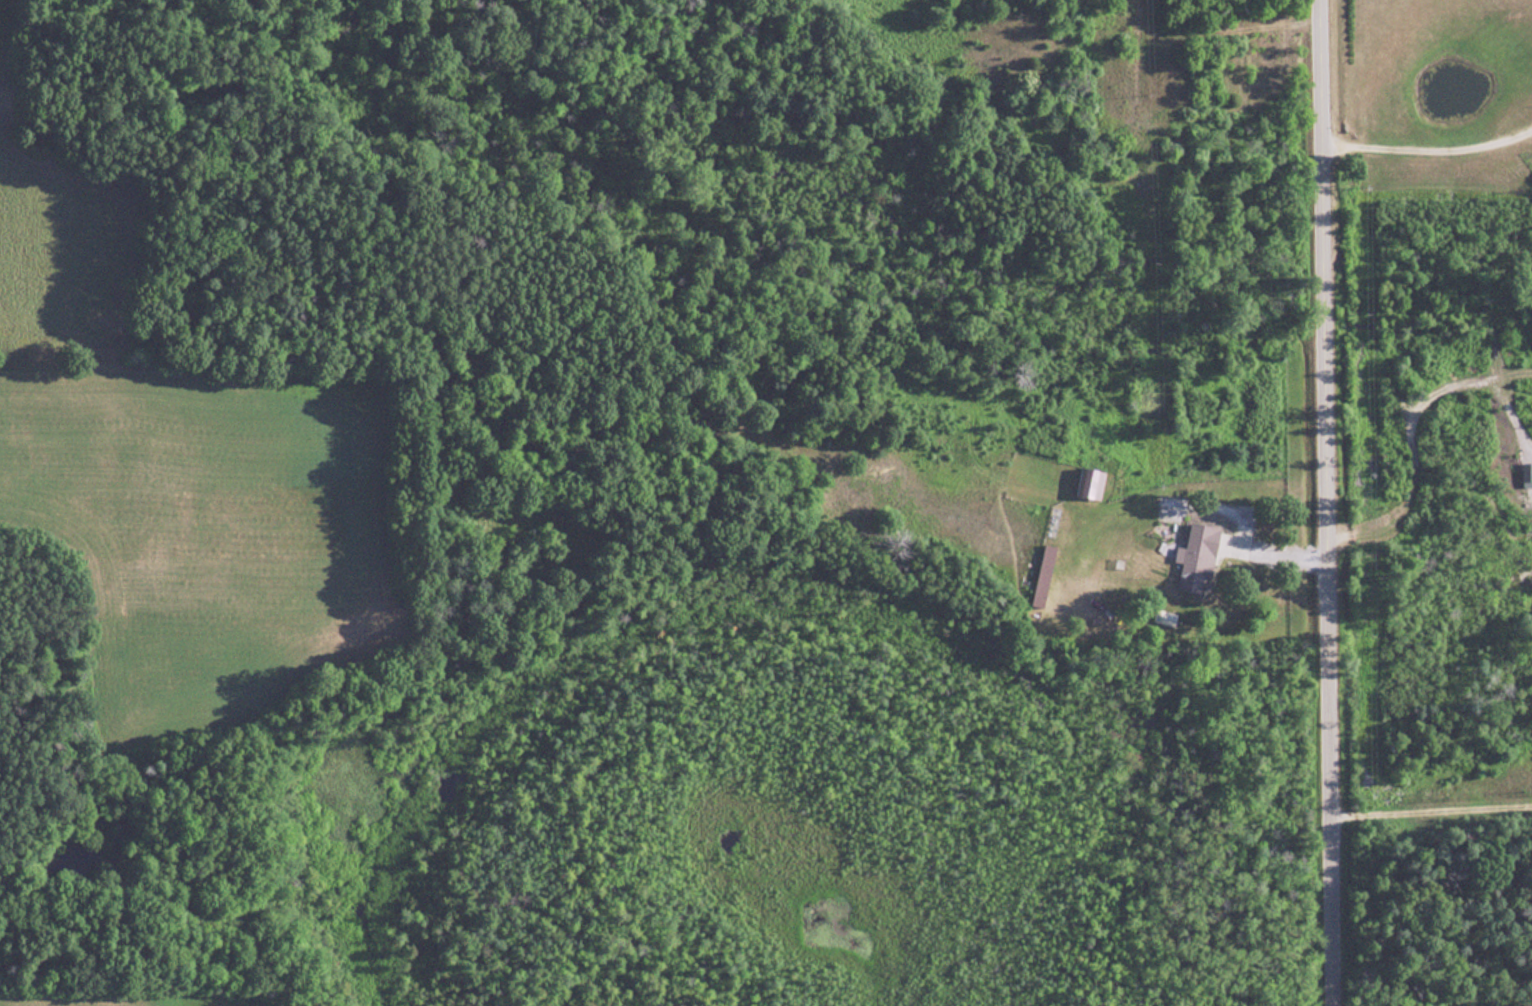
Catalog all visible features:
road: (1427, 137)
building: (1091, 482)
road: (1326, 502)
building: (1197, 558)
building: (1044, 575)
road: (1431, 808)

